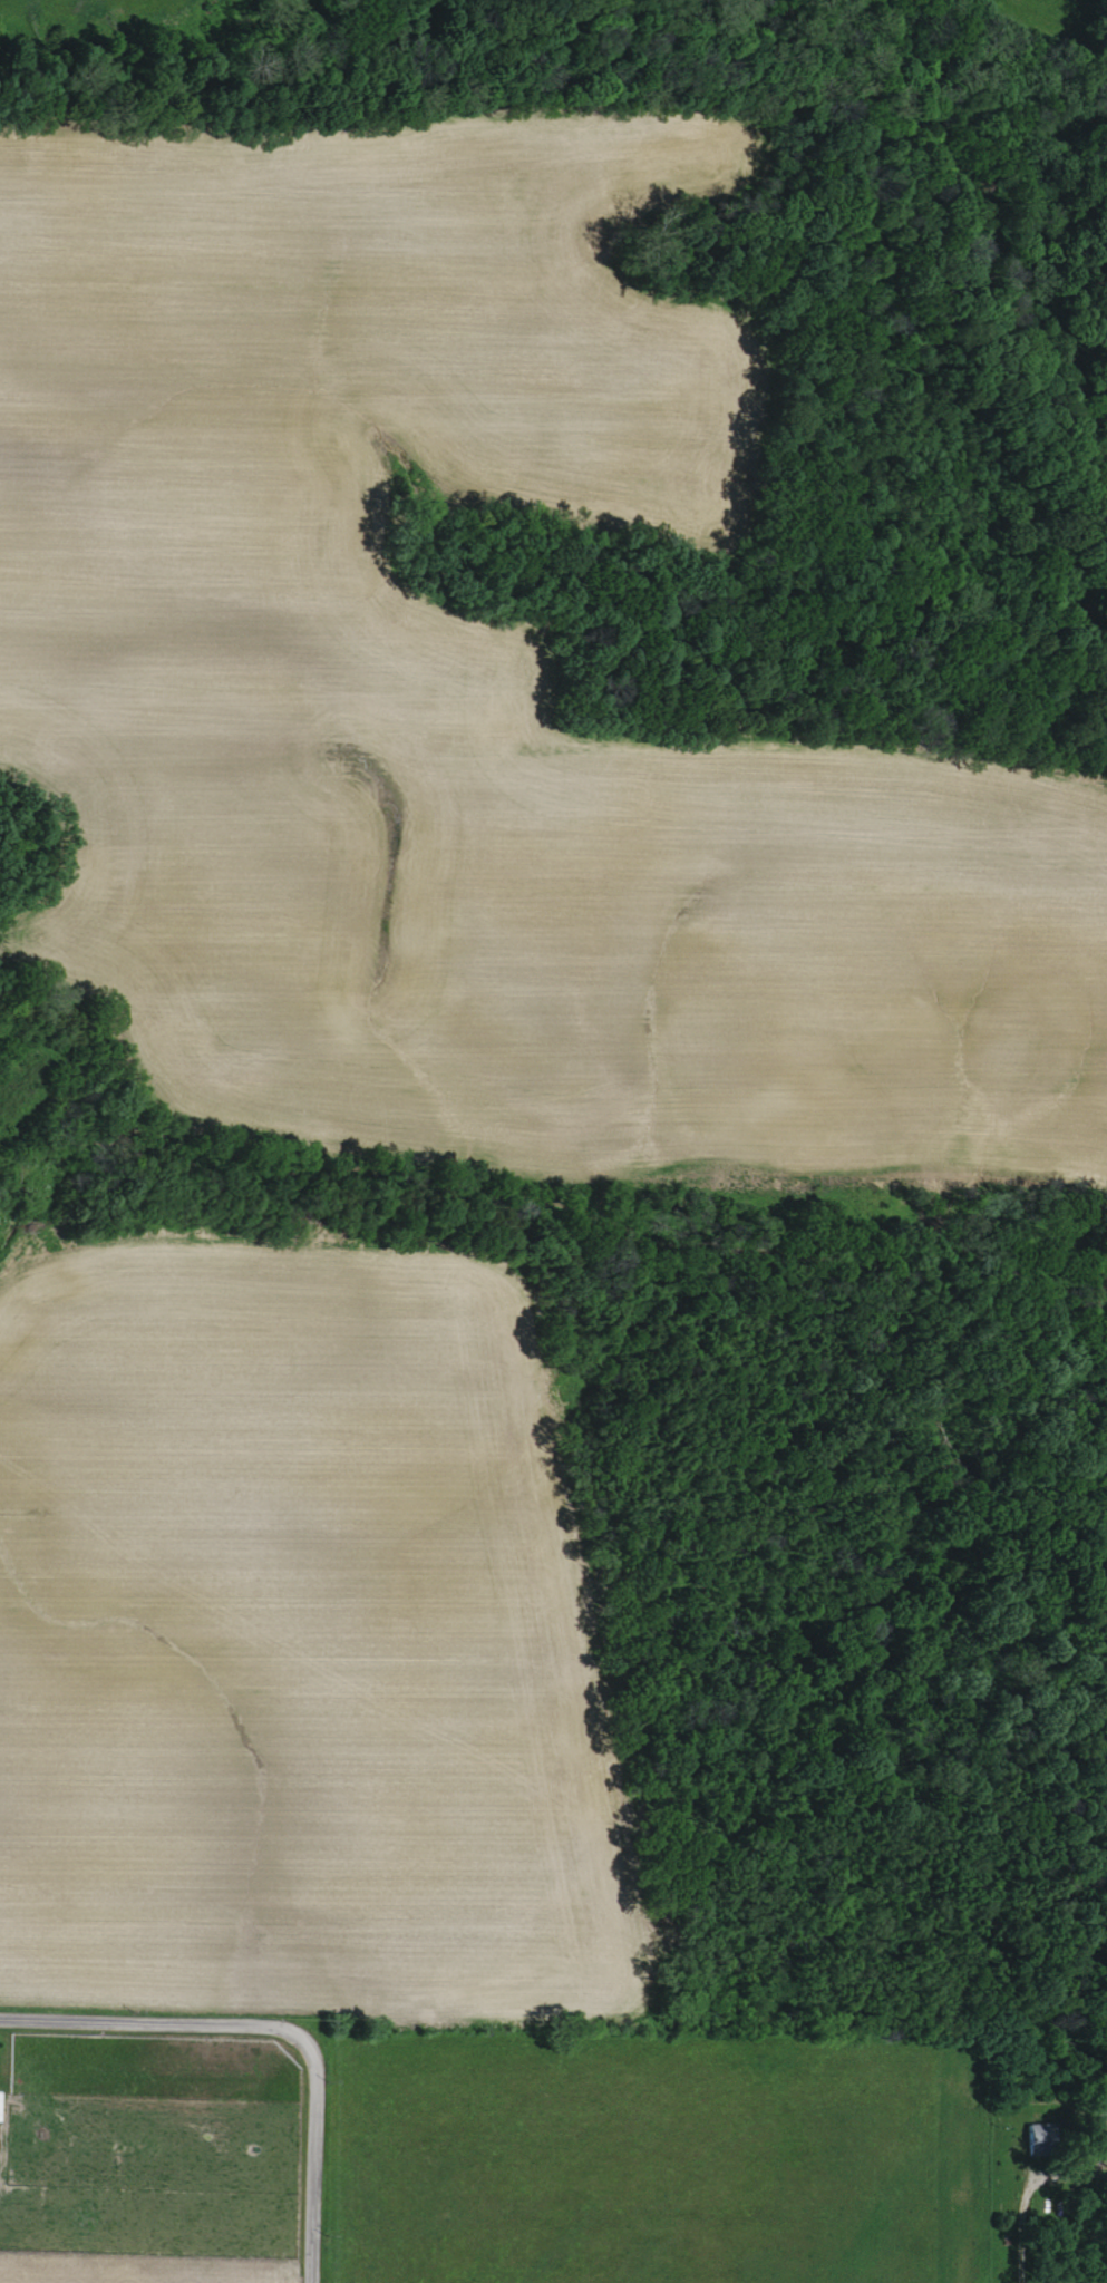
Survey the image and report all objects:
road: (136, 2023)
road: (311, 2144)
road: (1049, 2218)

